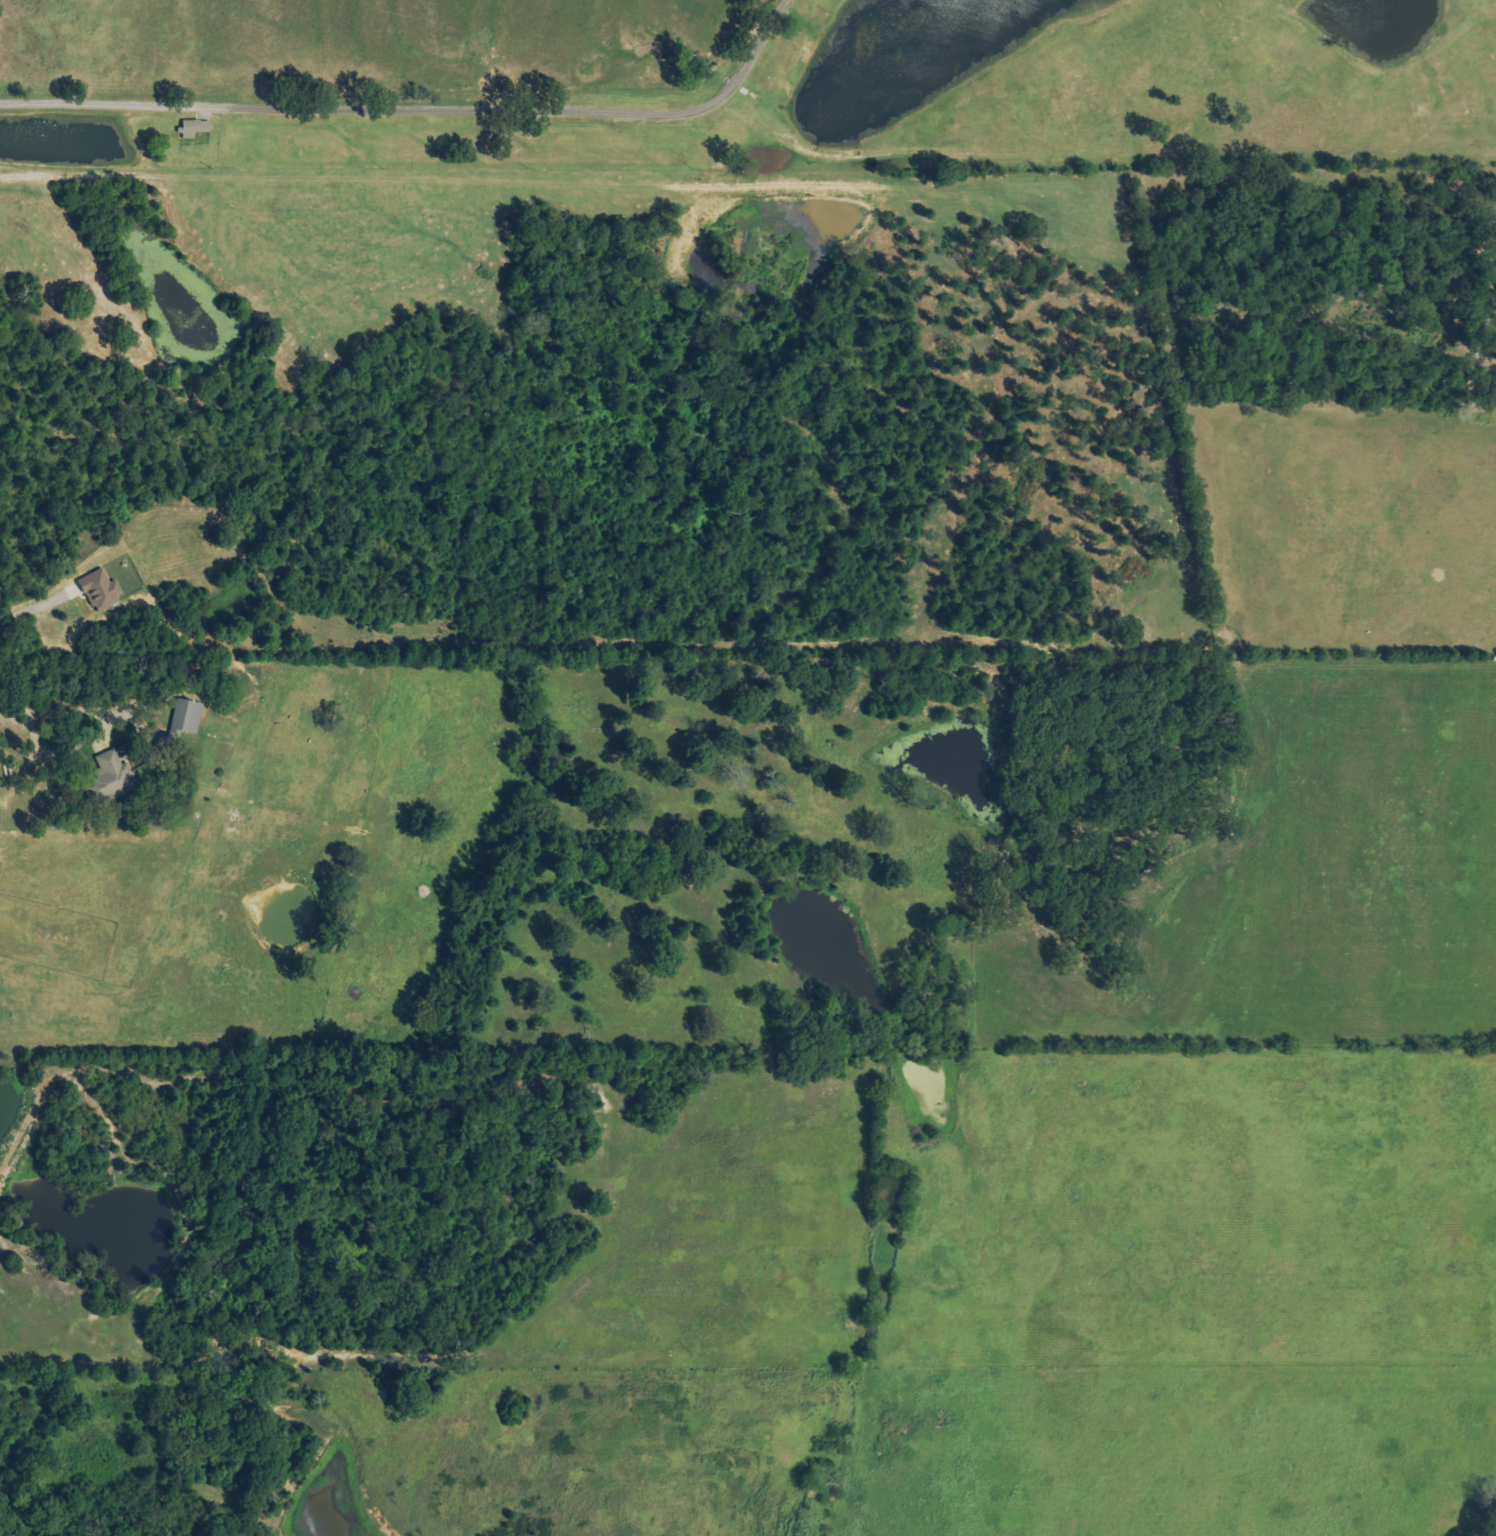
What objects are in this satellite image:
road: (424, 114)
building: (194, 128)
building: (101, 590)
road: (32, 604)
building: (186, 715)
building: (116, 771)

